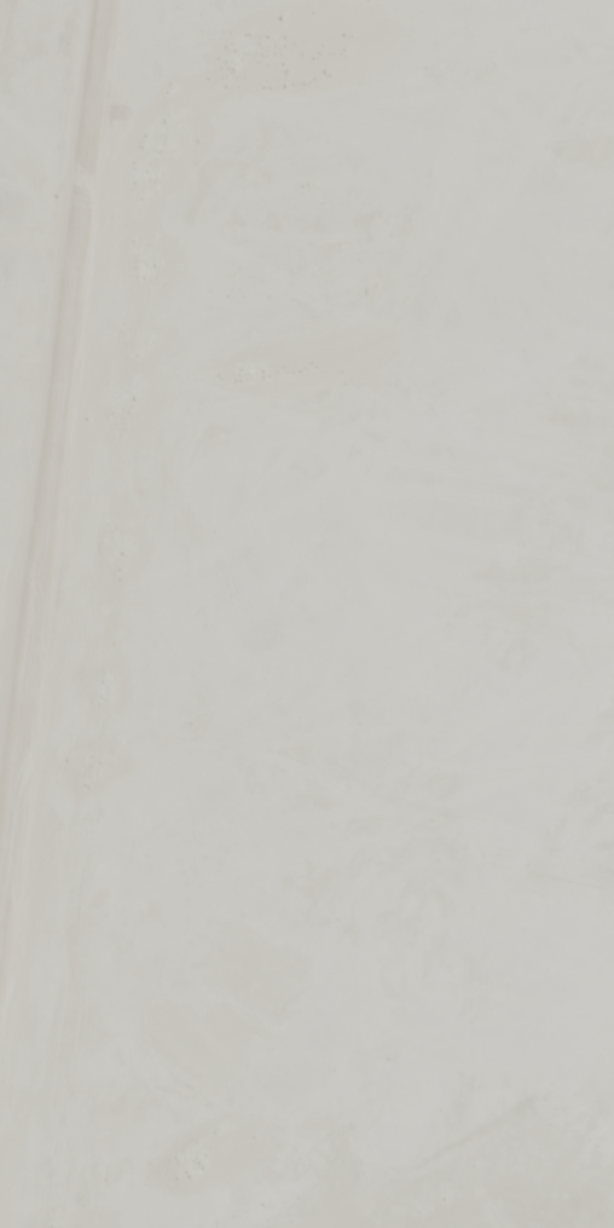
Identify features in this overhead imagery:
road: (41, 373)
building: (606, 880)
building: (610, 997)
building: (613, 1062)
building: (612, 1152)

